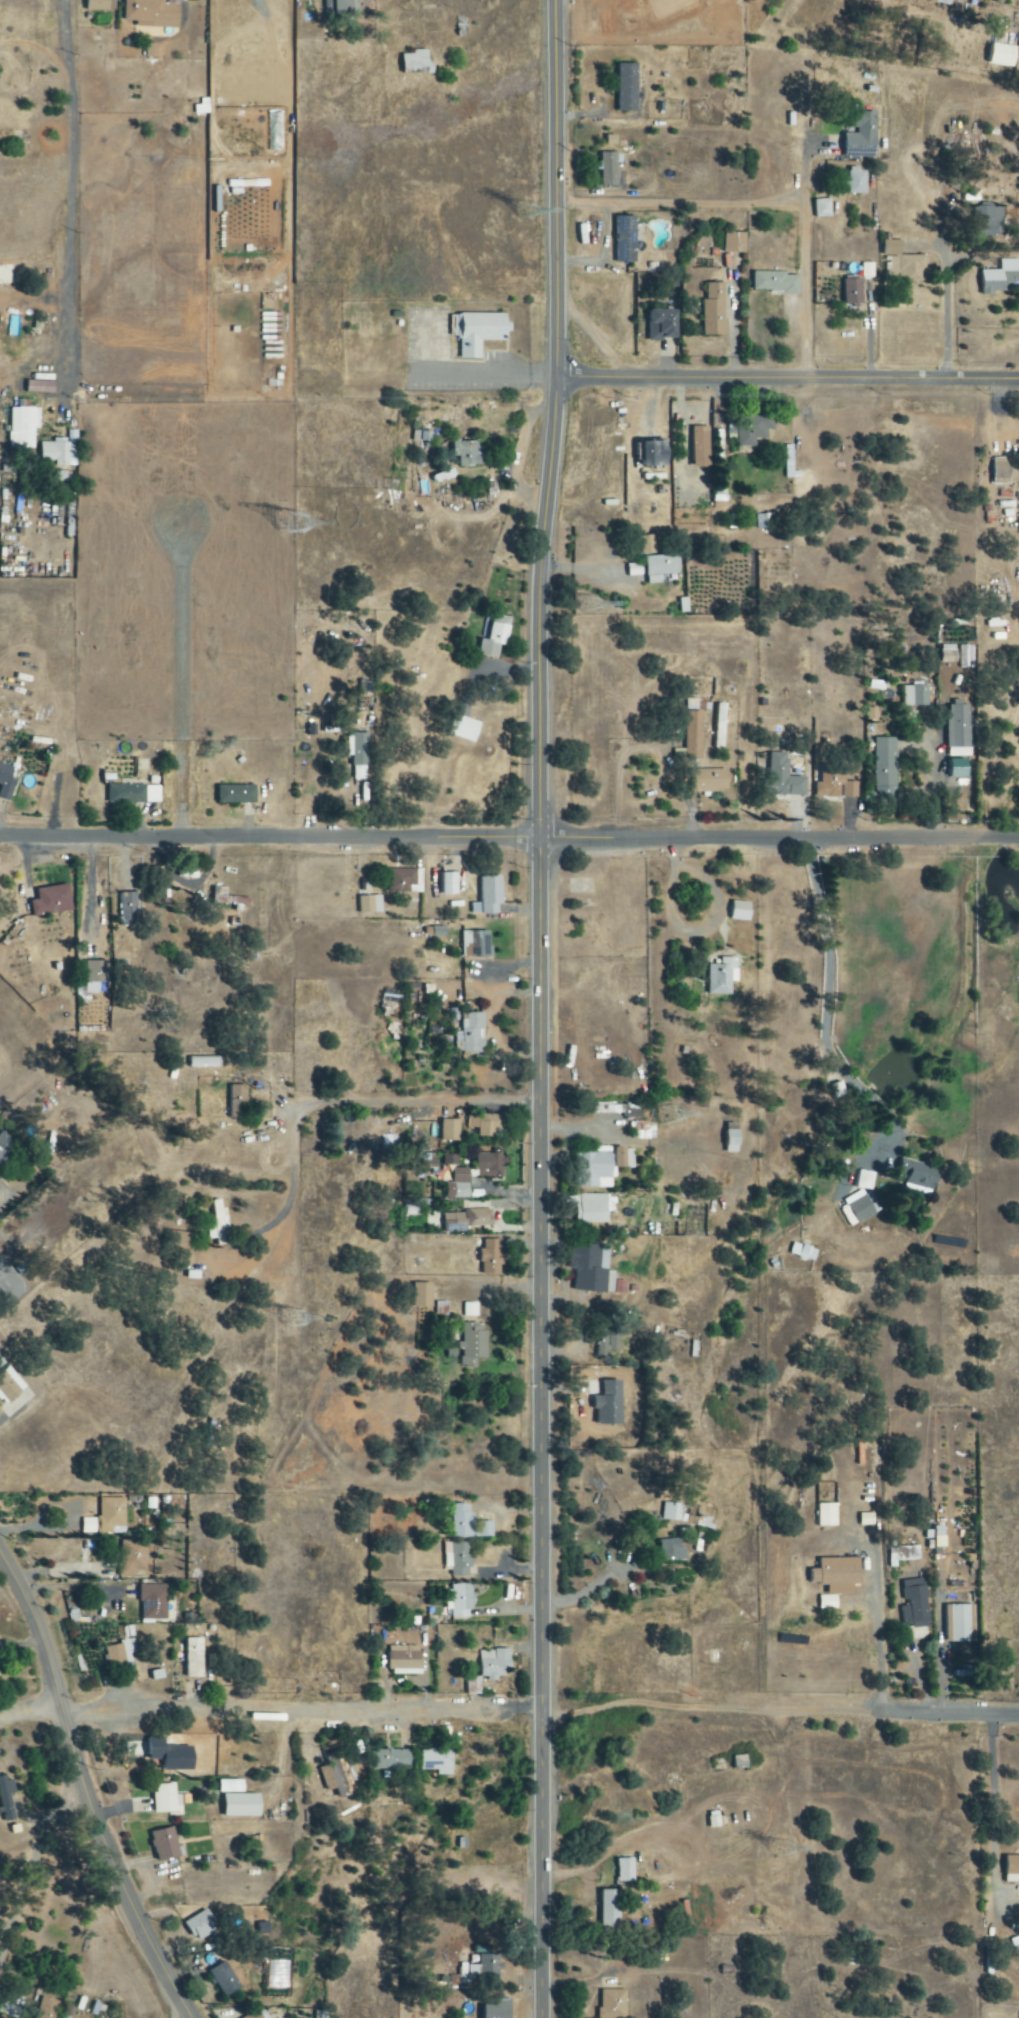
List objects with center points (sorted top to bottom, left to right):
building: (938, 2)
building: (98, 5)
building: (341, 7)
building: (153, 13)
building: (151, 50)
building: (996, 56)
building: (416, 62)
building: (627, 87)
building: (862, 136)
building: (609, 169)
building: (857, 181)
road: (72, 197)
road: (762, 206)
building: (822, 208)
building: (987, 220)
power tower: (527, 224)
building: (626, 239)
building: (734, 242)
building: (905, 263)
building: (867, 270)
building: (1002, 278)
building: (775, 282)
building: (853, 291)
building: (715, 310)
road: (946, 311)
building: (664, 325)
building: (477, 331)
road: (787, 374)
building: (40, 383)
building: (25, 425)
building: (702, 447)
building: (61, 451)
building: (655, 453)
building: (469, 454)
building: (1002, 471)
building: (764, 521)
power tower: (289, 522)
building: (648, 545)
building: (661, 567)
building: (635, 570)
power tower: (593, 596)
building: (495, 637)
road: (416, 666)
building: (919, 696)
building: (959, 727)
building: (465, 729)
building: (694, 735)
building: (359, 754)
building: (883, 762)
building: (783, 777)
building: (709, 781)
building: (6, 782)
building: (834, 783)
building: (134, 794)
building: (237, 794)
road: (509, 838)
building: (405, 881)
building: (449, 884)
building: (489, 896)
building: (228, 899)
building: (52, 901)
building: (370, 905)
building: (129, 909)
building: (741, 911)
building: (436, 932)
building: (475, 945)
building: (95, 975)
building: (721, 977)
road: (827, 994)
building: (391, 1000)
road: (539, 1008)
building: (91, 1021)
building: (474, 1034)
building: (205, 1063)
road: (399, 1087)
building: (238, 1102)
power tower: (669, 1108)
building: (486, 1124)
building: (449, 1131)
building: (644, 1131)
building: (733, 1142)
building: (6, 1145)
building: (624, 1158)
building: (489, 1166)
building: (594, 1170)
building: (918, 1175)
building: (865, 1180)
building: (458, 1185)
building: (591, 1209)
building: (861, 1209)
building: (467, 1220)
building: (219, 1224)
building: (171, 1226)
building: (178, 1237)
building: (803, 1253)
building: (489, 1257)
building: (589, 1268)
building: (423, 1296)
building: (470, 1310)
power tower: (291, 1318)
building: (473, 1345)
building: (10, 1386)
building: (603, 1424)
building: (672, 1512)
building: (110, 1515)
building: (828, 1516)
building: (468, 1524)
building: (672, 1551)
building: (134, 1557)
building: (458, 1559)
building: (838, 1575)
road: (589, 1590)
building: (460, 1602)
building: (154, 1603)
building: (915, 1608)
road: (874, 1614)
building: (958, 1625)
building: (117, 1655)
building: (405, 1658)
building: (194, 1659)
building: (493, 1665)
building: (474, 1687)
road: (708, 1707)
road: (301, 1711)
road: (948, 1711)
road: (30, 1713)
building: (393, 1760)
building: (437, 1762)
building: (741, 1763)
building: (338, 1776)
building: (231, 1788)
road: (87, 1790)
building: (167, 1800)
building: (9, 1802)
building: (242, 1806)
road: (988, 1810)
power tower: (787, 1843)
building: (165, 1845)
building: (1012, 1870)
building: (625, 1871)
building: (610, 1910)
building: (201, 1927)
building: (485, 1968)
building: (224, 1980)
building: (613, 2004)
building: (47, 2009)
building: (497, 2010)
building: (255, 2015)

